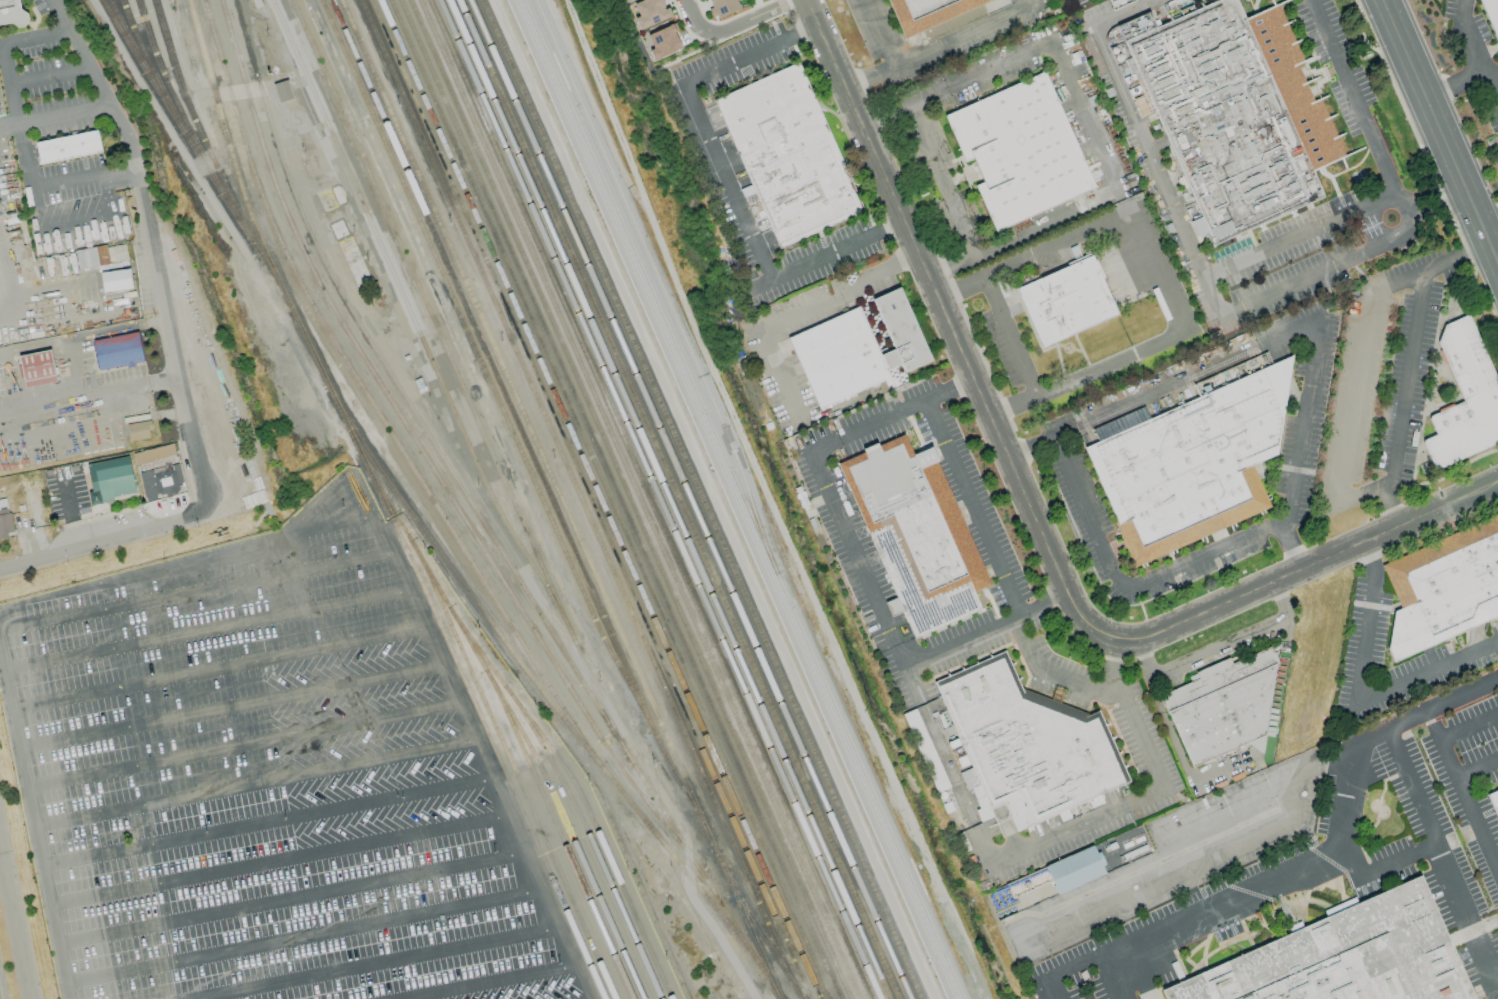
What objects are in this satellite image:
building: (745, 0)
building: (629, 1)
building: (725, 7)
building: (1493, 11)
building: (652, 12)
building: (10, 13)
building: (934, 13)
road: (807, 16)
railway: (118, 22)
road: (732, 27)
road: (803, 29)
road: (36, 35)
road: (878, 35)
road: (962, 38)
building: (663, 42)
road: (1474, 47)
road: (83, 50)
railway: (143, 55)
road: (50, 74)
road: (978, 74)
road: (9, 82)
road: (868, 83)
railway: (165, 86)
road: (1458, 87)
building: (282, 91)
road: (54, 113)
railway: (190, 116)
road: (1086, 117)
building: (1230, 117)
road: (1439, 130)
road: (1368, 133)
building: (68, 147)
building: (1025, 153)
building: (788, 155)
railway: (199, 157)
road: (727, 179)
road: (939, 182)
road: (50, 183)
road: (138, 186)
road: (71, 218)
road: (1490, 223)
road: (888, 225)
road: (1047, 225)
road: (1299, 234)
road: (1190, 245)
road: (1033, 254)
building: (101, 255)
road: (1432, 268)
road: (950, 269)
road: (1162, 270)
road: (878, 274)
building: (115, 280)
railway: (659, 284)
building: (1070, 303)
railway: (415, 323)
road: (764, 335)
road: (1011, 337)
road: (956, 345)
building: (117, 351)
building: (858, 351)
railway: (482, 367)
building: (36, 368)
road: (1090, 374)
railway: (460, 382)
road: (91, 396)
road: (186, 396)
railway: (368, 398)
road: (1357, 399)
building: (1468, 400)
road: (1403, 401)
road: (905, 411)
railway: (516, 423)
building: (1121, 423)
building: (138, 430)
road: (1028, 448)
road: (731, 451)
building: (153, 454)
railway: (425, 458)
building: (1195, 465)
building: (110, 479)
building: (161, 479)
road: (1364, 495)
railway: (560, 499)
railway: (589, 499)
railway: (599, 499)
railway: (609, 499)
railway: (619, 499)
railway: (628, 499)
railway: (638, 499)
railway: (649, 499)
railway: (658, 499)
railway: (667, 499)
railway: (678, 499)
railway: (689, 499)
railway: (701, 499)
railway: (733, 499)
railway: (742, 499)
railway: (469, 500)
railway: (579, 500)
road: (973, 510)
park: (843, 514)
railway: (424, 531)
road: (846, 533)
building: (915, 534)
road: (97, 539)
road: (1292, 548)
road: (1102, 555)
road: (1308, 567)
road: (402, 580)
building: (1443, 588)
road: (195, 592)
road: (1282, 600)
road: (1017, 627)
road: (205, 631)
road: (988, 631)
road: (1219, 648)
road: (901, 654)
road: (1143, 658)
road: (217, 667)
road: (1110, 667)
road: (1054, 673)
road: (913, 682)
railway: (507, 689)
road: (1358, 689)
building: (1222, 706)
road: (229, 707)
road: (1468, 725)
railway: (484, 727)
road: (239, 745)
building: (1025, 745)
road: (1476, 768)
railway: (514, 769)
road: (288, 774)
road: (955, 780)
parking lot: (269, 781)
road: (250, 785)
road: (1462, 795)
building: (1496, 797)
railway: (544, 801)
building: (1094, 801)
road: (1132, 803)
road: (30, 823)
road: (263, 823)
railway: (570, 831)
railway: (590, 838)
road: (1179, 848)
road: (1444, 856)
road: (274, 860)
road: (1310, 863)
road: (1374, 870)
road: (287, 899)
road: (14, 926)
railway: (757, 927)
road: (299, 937)
building: (1346, 958)
road: (366, 964)
road: (1111, 974)
road: (487, 983)
road: (1052, 985)

